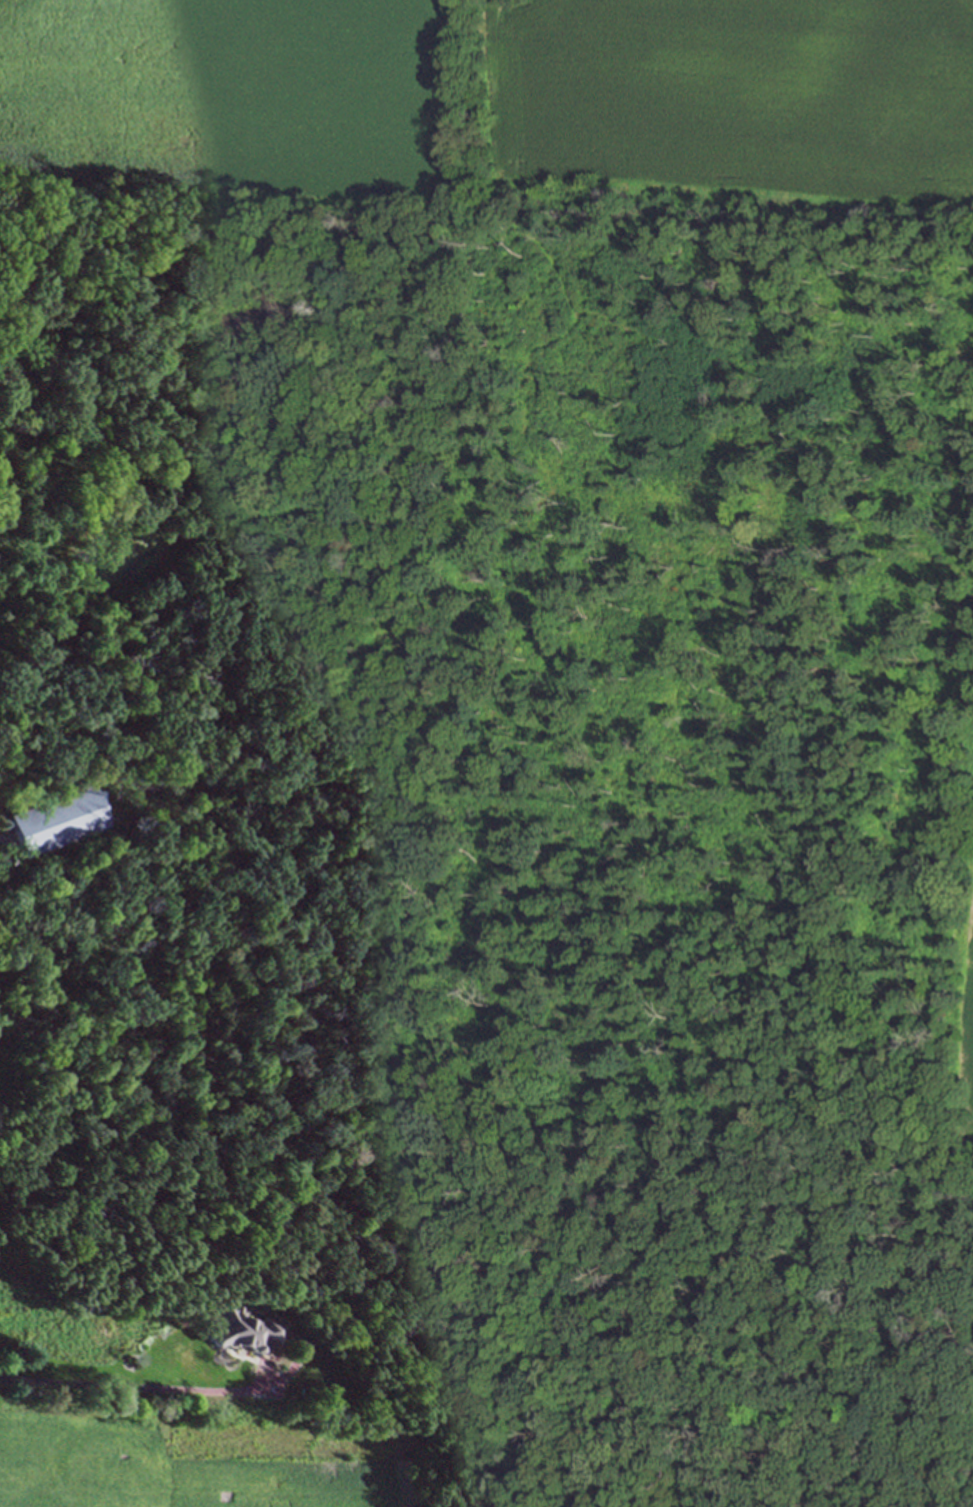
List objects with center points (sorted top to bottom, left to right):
crop: (238, 98)
park: (719, 678)
building: (53, 814)
building: (242, 1328)
road: (132, 1389)
crop: (221, 1471)

